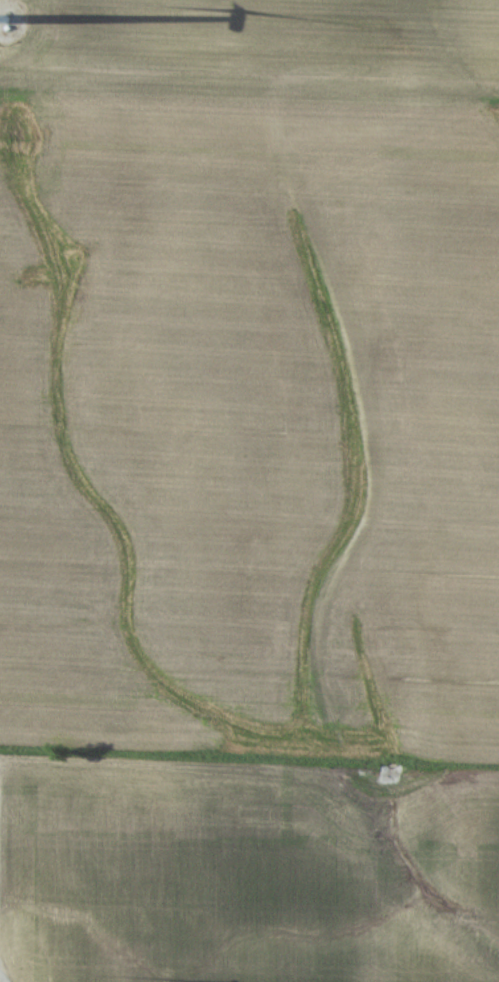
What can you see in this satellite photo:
wind turbine: (4, 20)

